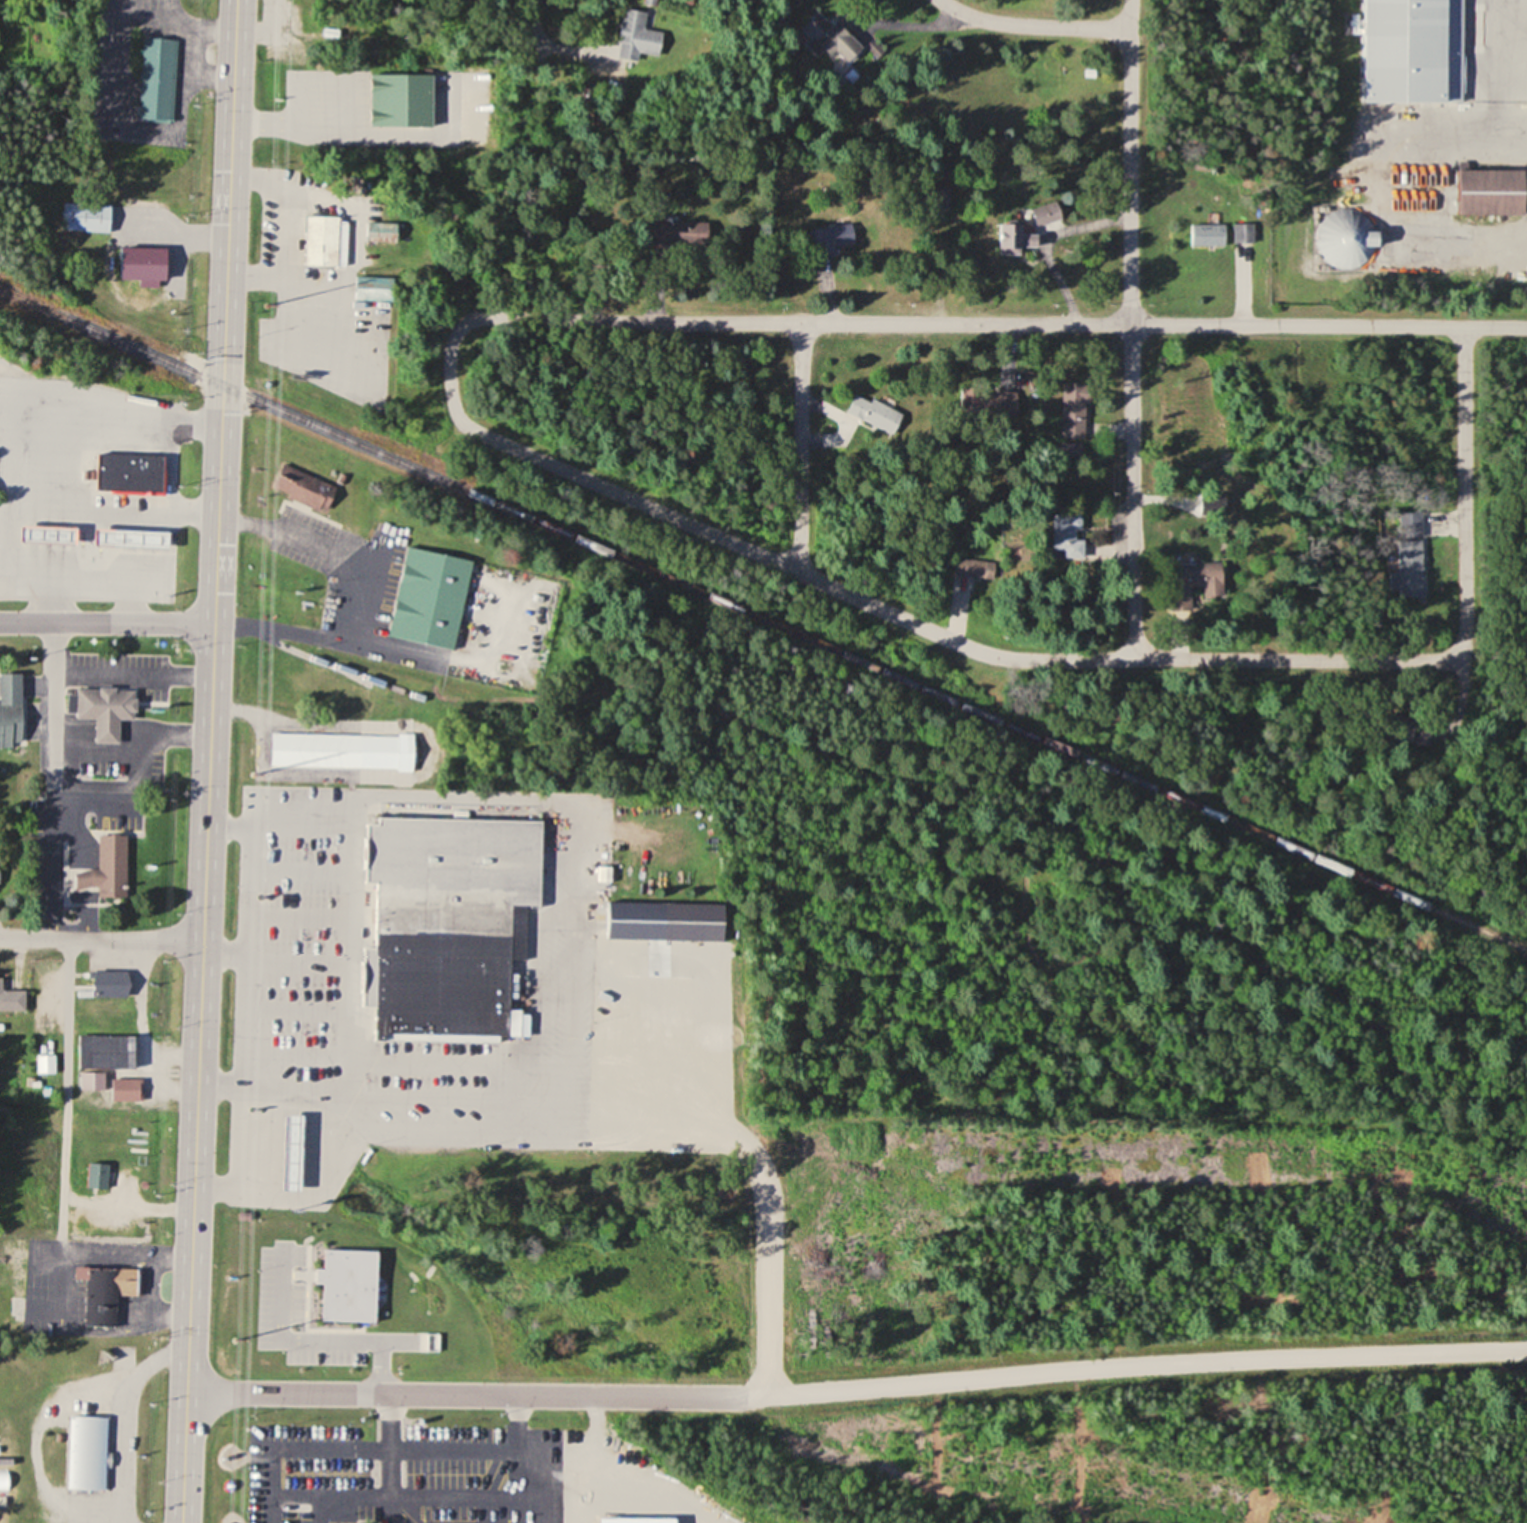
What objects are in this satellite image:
road: (534, 22)
road: (1033, 25)
building: (636, 36)
building: (828, 36)
building: (1413, 50)
building: (157, 78)
building: (400, 99)
building: (1491, 191)
building: (86, 217)
building: (1029, 227)
building: (1243, 232)
building: (1208, 234)
building: (834, 238)
building: (1347, 238)
building: (325, 240)
building: (143, 265)
power tower: (266, 303)
road: (994, 323)
road: (1131, 328)
building: (994, 403)
building: (1075, 410)
building: (865, 413)
road: (799, 446)
building: (1071, 450)
building: (129, 473)
road: (1465, 483)
building: (297, 487)
building: (1188, 504)
building: (37, 534)
building: (1067, 536)
building: (126, 537)
road: (745, 547)
building: (1409, 556)
building: (975, 569)
building: (1192, 584)
building: (429, 597)
railway: (763, 619)
road: (106, 625)
road: (1302, 658)
building: (382, 684)
building: (10, 708)
building: (101, 708)
building: (1399, 730)
building: (341, 750)
road: (208, 761)
power tower: (251, 771)
building: (107, 867)
building: (665, 922)
building: (447, 925)
road: (101, 939)
building: (110, 984)
building: (11, 999)
building: (101, 1052)
building: (46, 1064)
building: (92, 1081)
building: (126, 1090)
building: (290, 1152)
building: (98, 1176)
building: (100, 1303)
power tower: (233, 1339)
road: (460, 1395)
building: (87, 1453)
building: (4, 1481)
building: (368, 1522)

